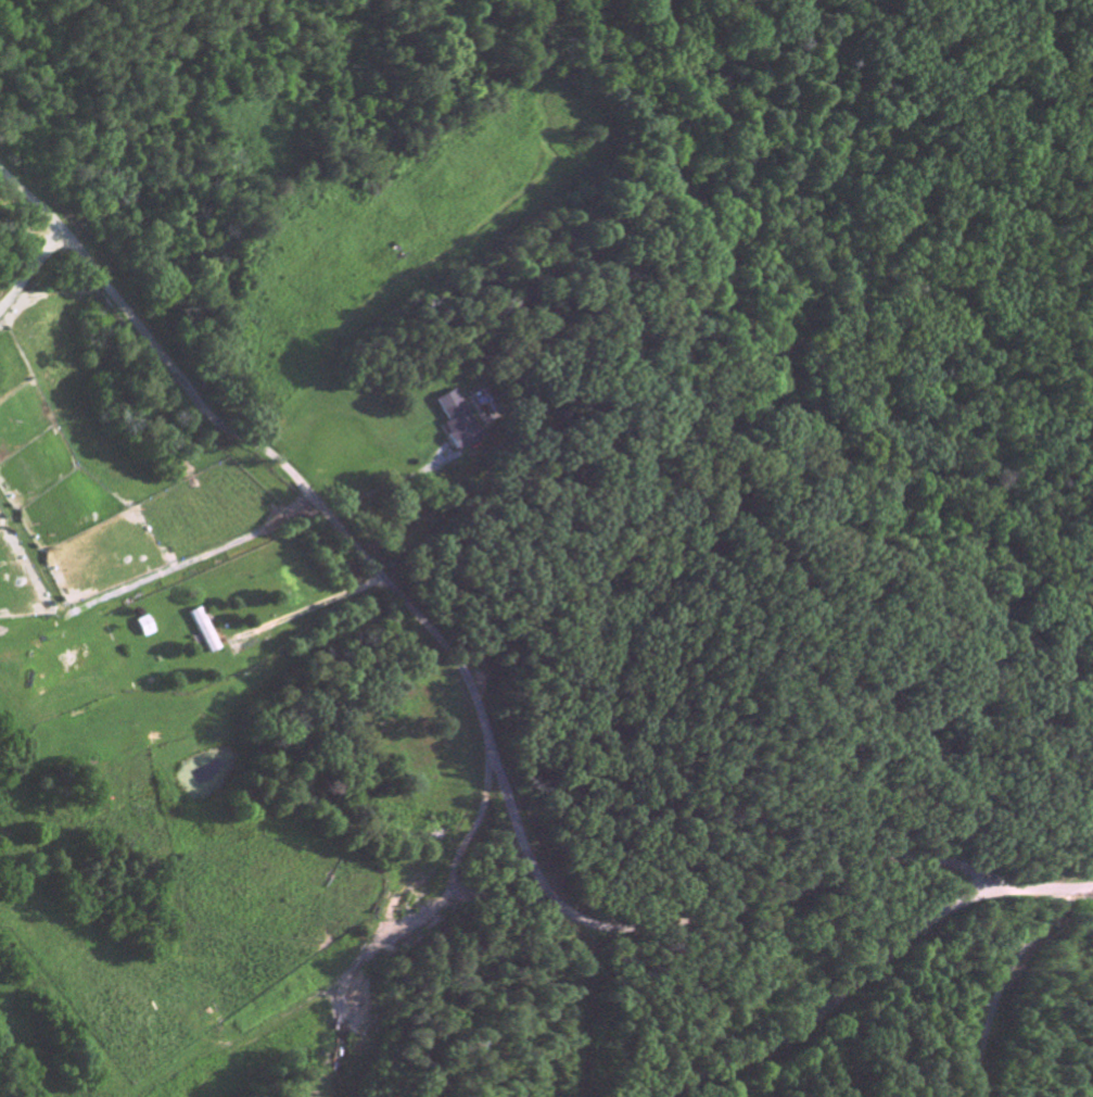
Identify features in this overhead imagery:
building: (458, 423)
road: (307, 609)
building: (204, 633)
road: (470, 698)
road: (401, 949)
road: (872, 975)
road: (996, 995)

